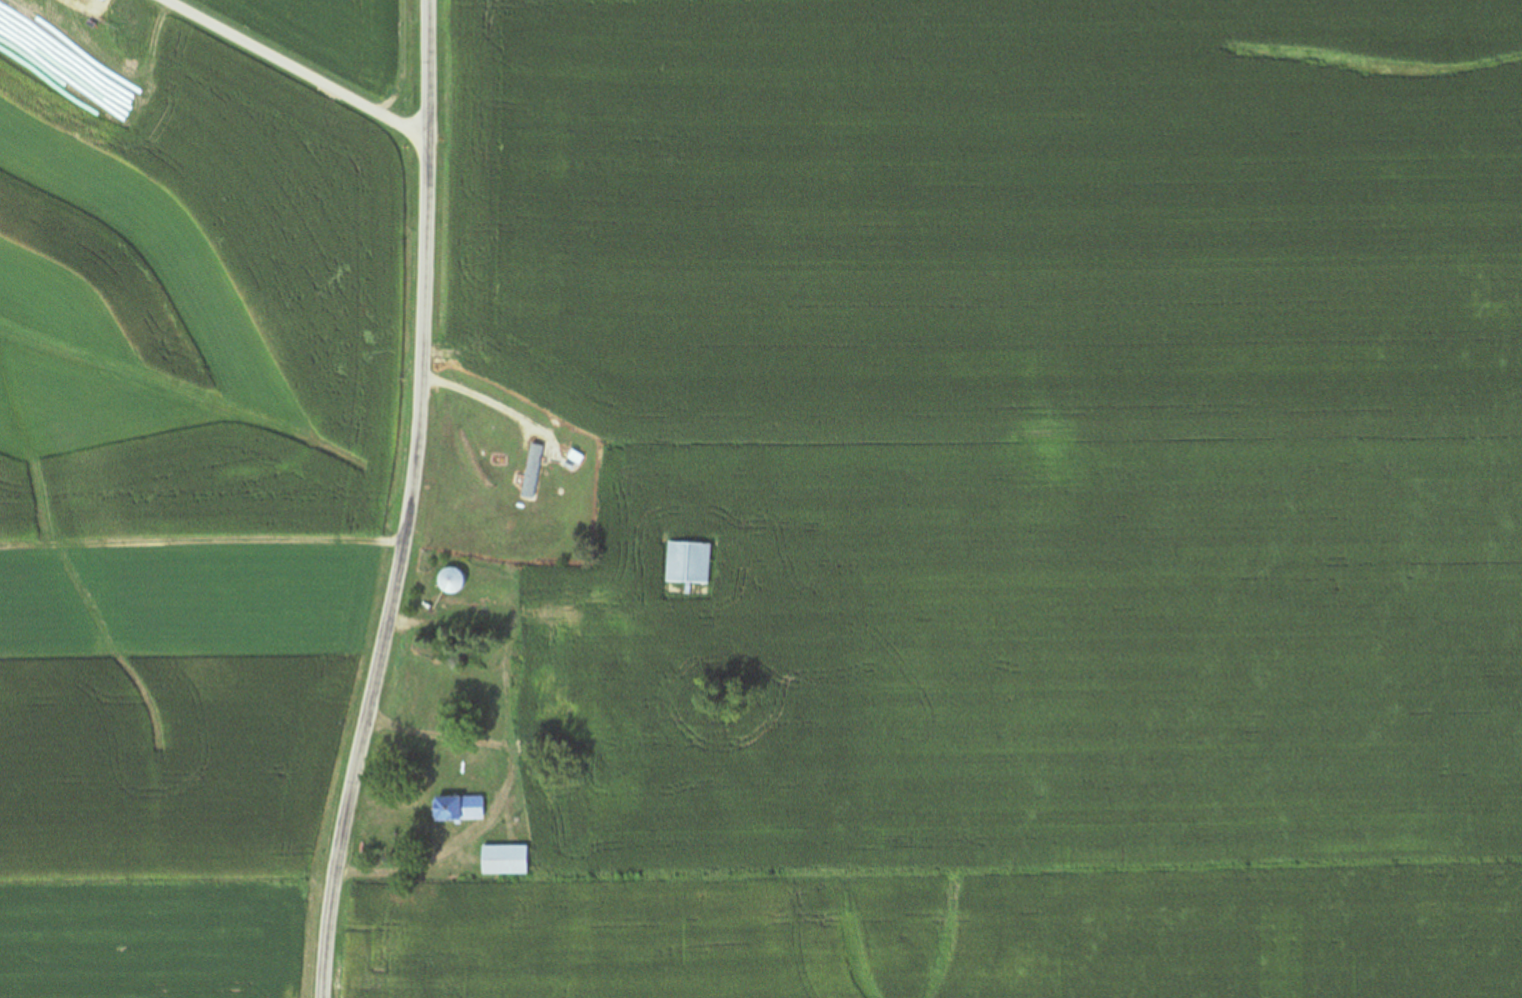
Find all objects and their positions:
road: (293, 71)
building: (532, 470)
road: (405, 501)
building: (688, 561)
building: (452, 580)
building: (458, 807)
building: (505, 858)

